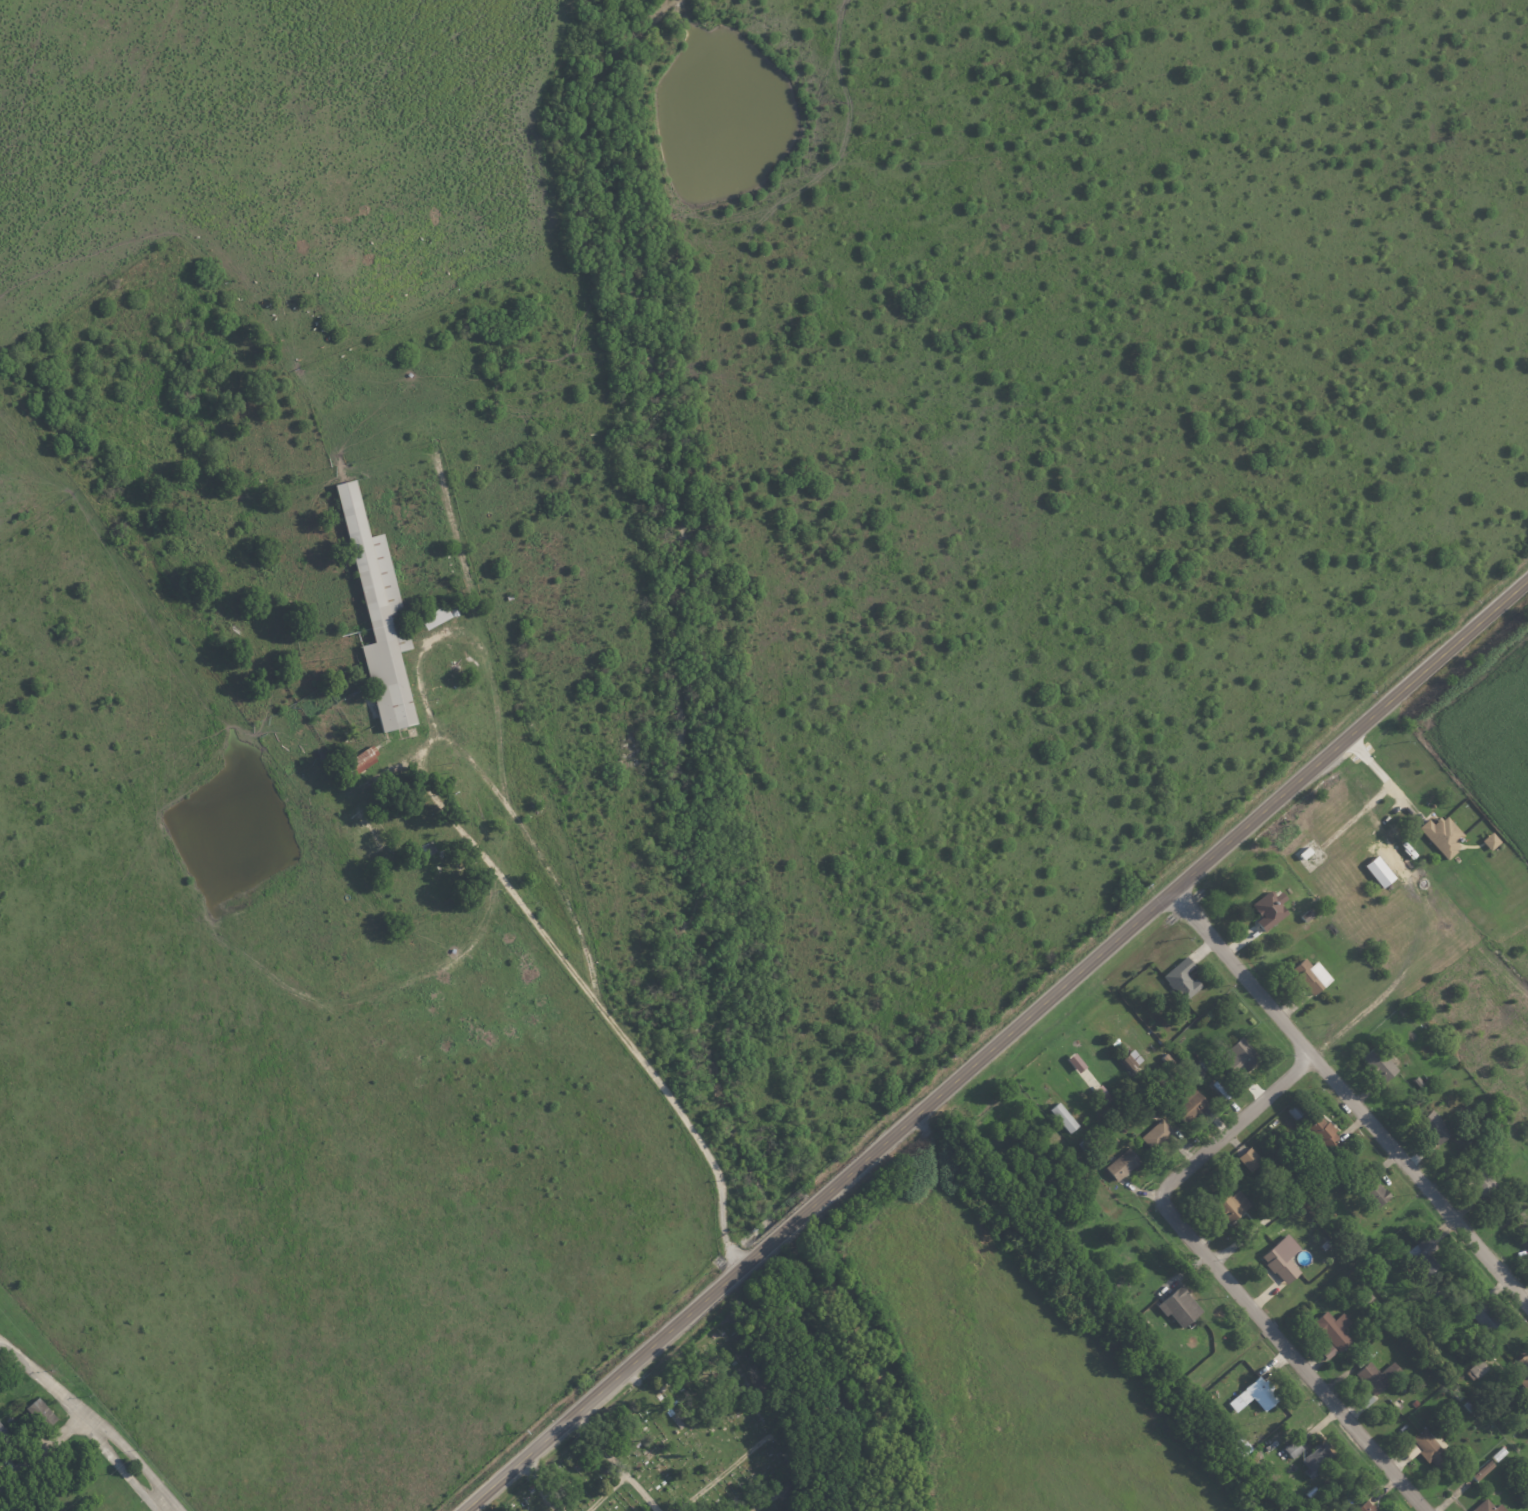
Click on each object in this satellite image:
building: (383, 615)
building: (441, 616)
road: (423, 750)
building: (368, 758)
road: (1382, 777)
building: (1438, 835)
building: (1486, 840)
building: (1374, 871)
building: (1266, 909)
building: (1315, 972)
building: (1294, 975)
building: (1178, 978)
road: (997, 1046)
building: (1232, 1052)
building: (1375, 1061)
road: (1349, 1097)
building: (1184, 1105)
building: (1059, 1116)
road: (1236, 1126)
road: (691, 1128)
building: (1153, 1134)
building: (1246, 1157)
building: (1118, 1163)
building: (1373, 1191)
building: (1232, 1202)
building: (1527, 1253)
building: (1425, 1255)
building: (1277, 1258)
building: (1175, 1306)
building: (1329, 1328)
building: (1325, 1351)
road: (1294, 1355)
building: (1475, 1368)
building: (1375, 1374)
building: (1251, 1394)
building: (1363, 1398)
building: (43, 1412)
road: (89, 1422)
building: (11, 1441)
park: (702, 1443)
building: (1424, 1445)
building: (1289, 1448)
road: (42, 1453)
building: (1478, 1470)
building: (1484, 1506)
building: (1367, 1508)

